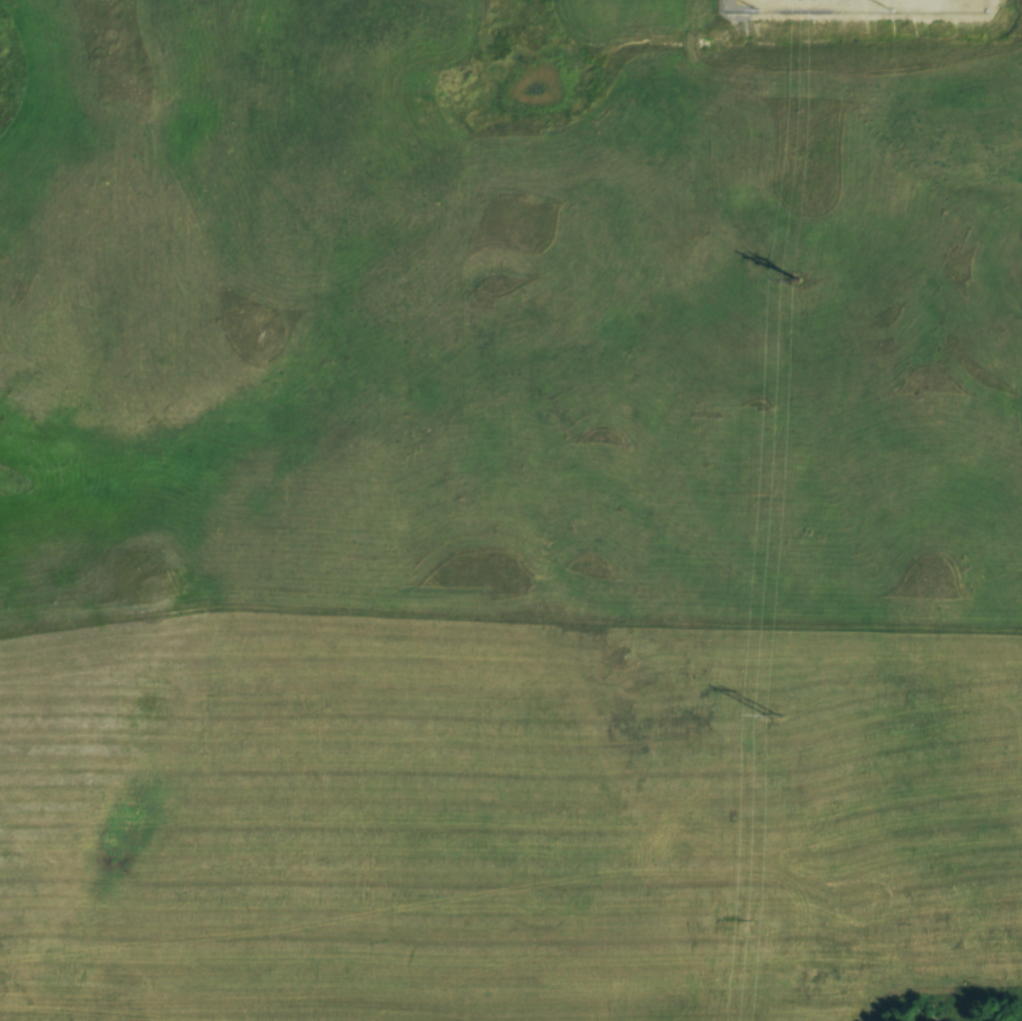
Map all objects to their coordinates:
power substation: (852, 7)
power tower: (792, 280)
power tower: (768, 715)

